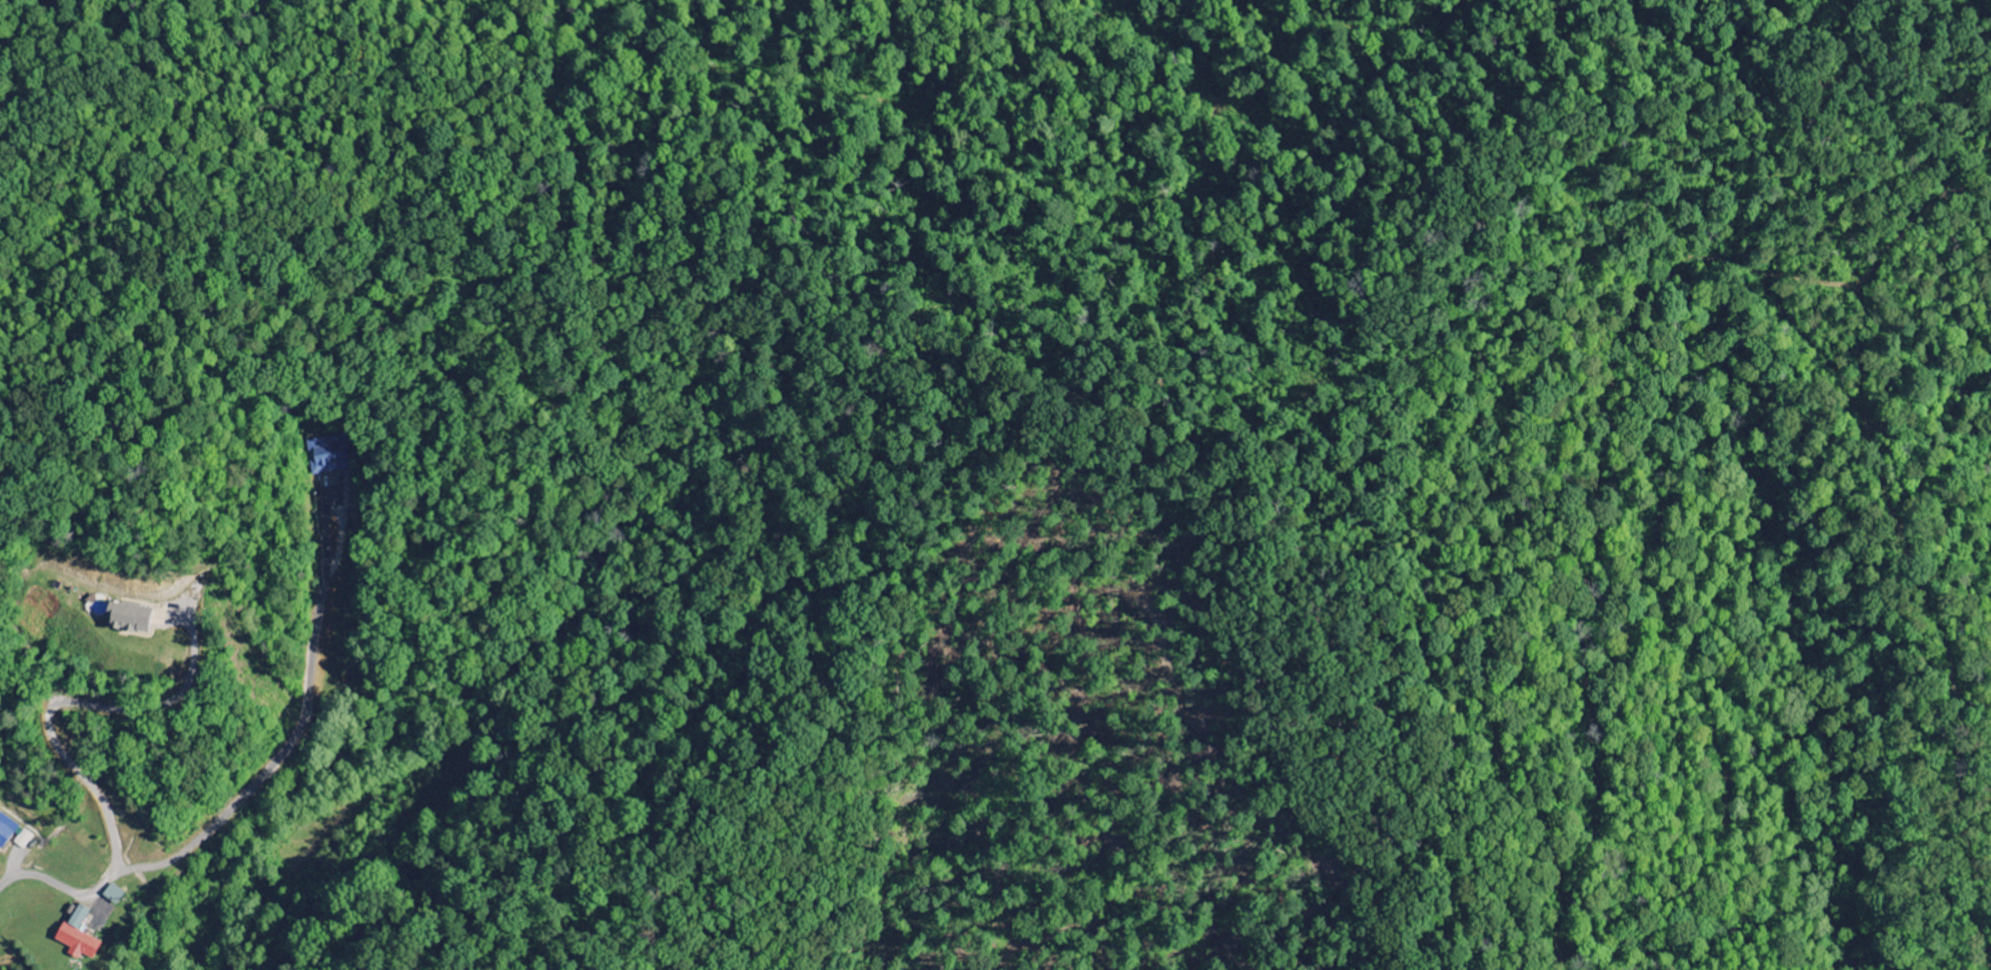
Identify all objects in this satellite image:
road: (14, 2)
building: (329, 455)
building: (126, 618)
building: (12, 834)
building: (75, 937)

